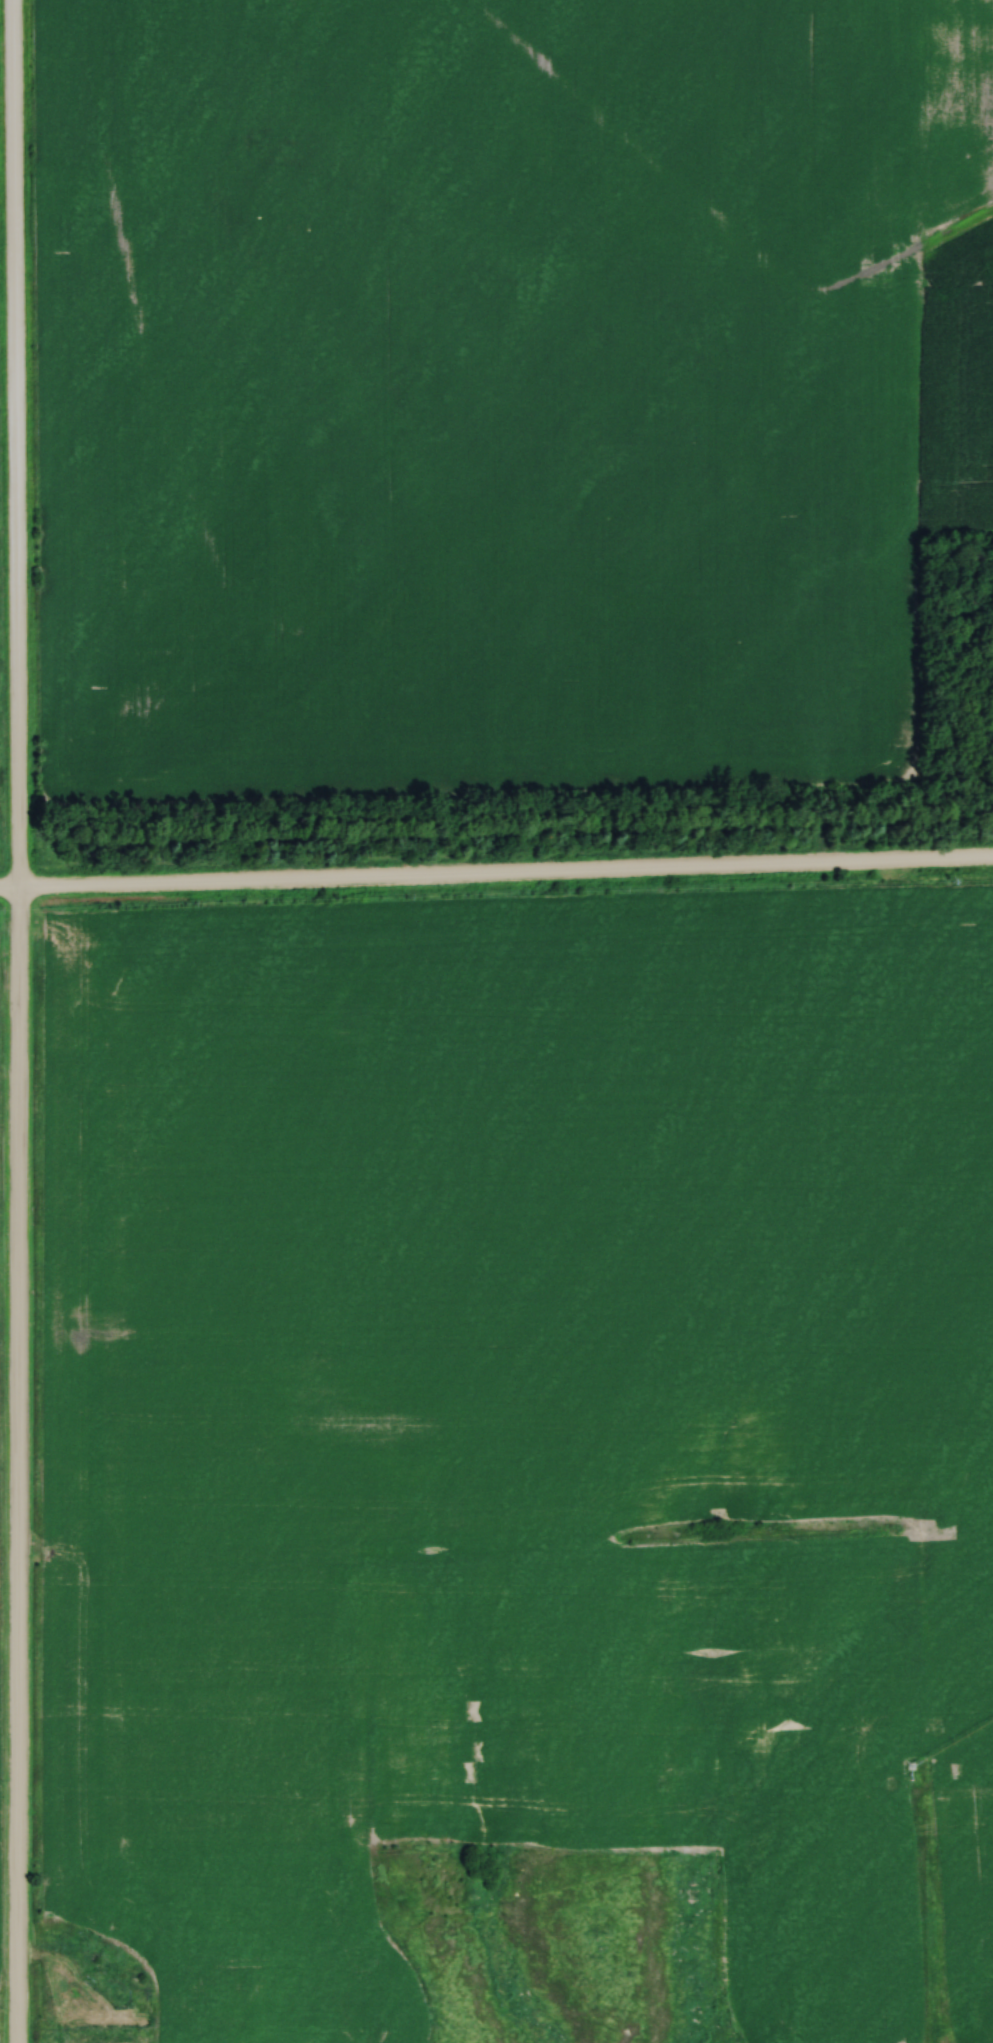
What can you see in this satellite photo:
building: (989, 744)
road: (496, 875)
road: (19, 1021)

